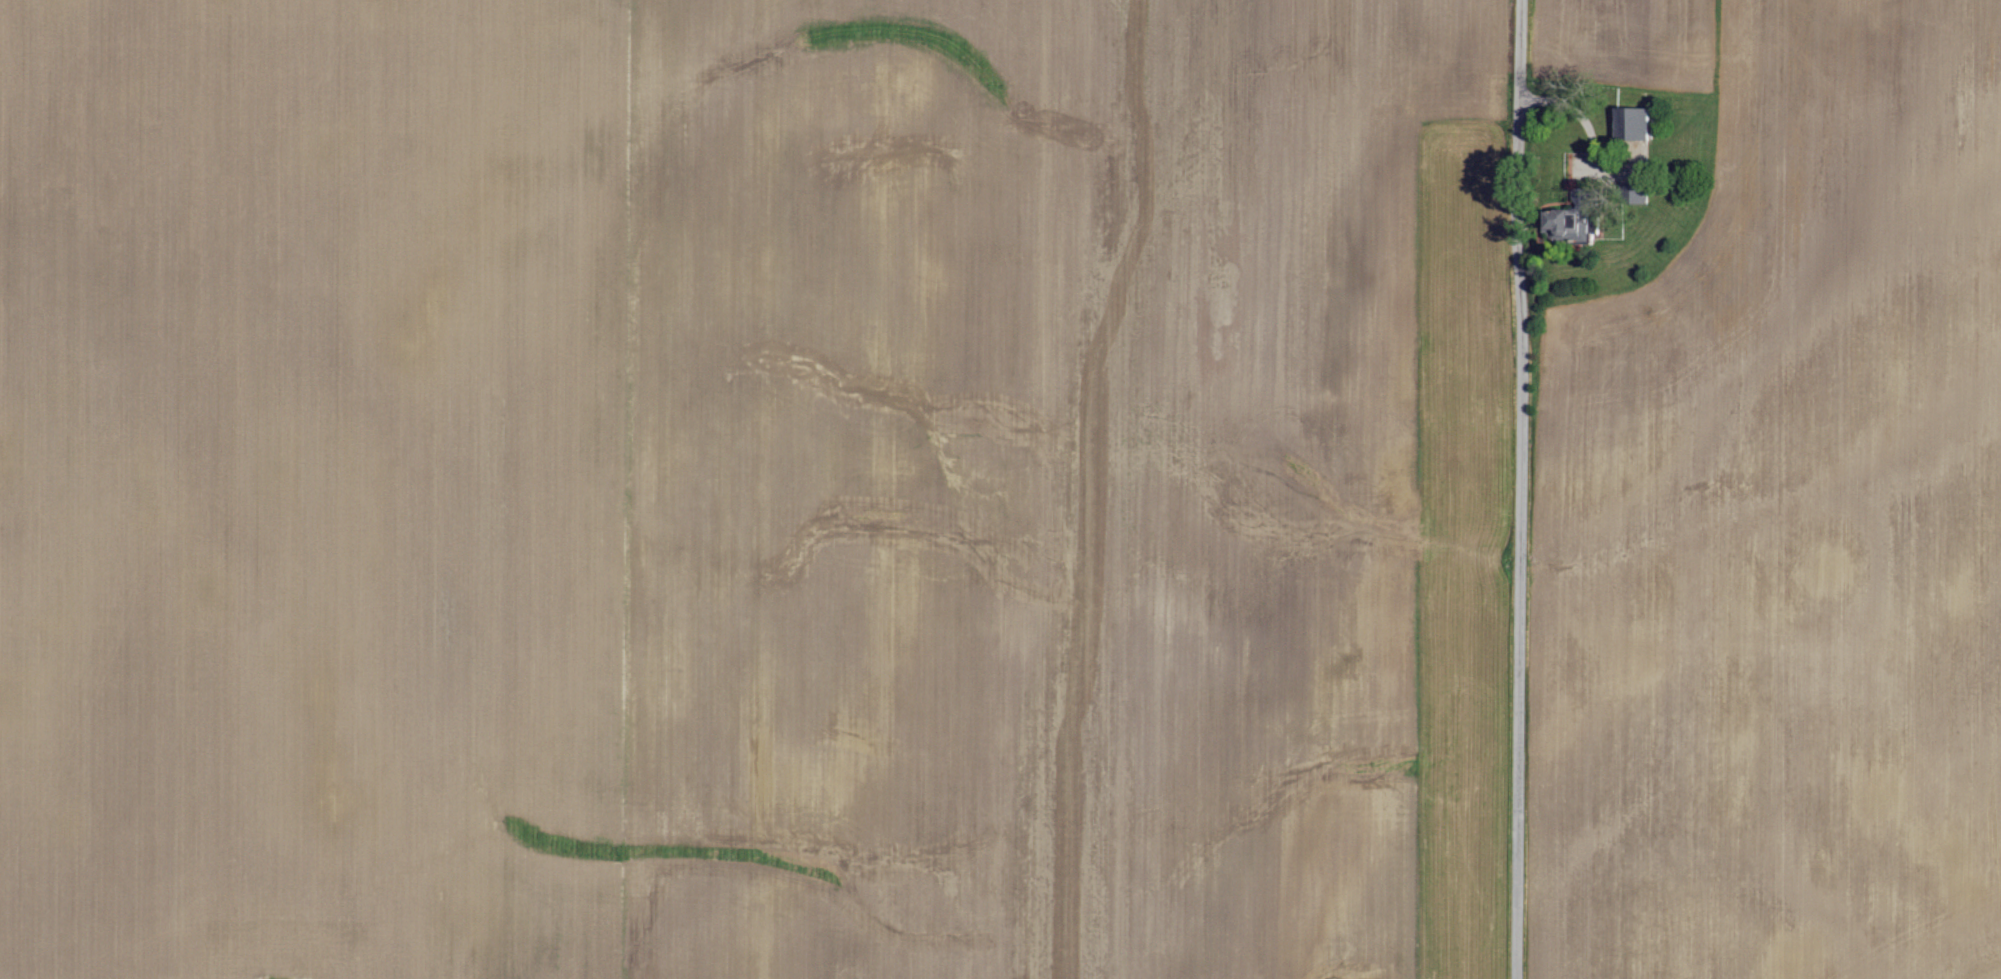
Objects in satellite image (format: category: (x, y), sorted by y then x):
building: (1629, 124)
building: (1635, 193)
road: (1516, 489)

